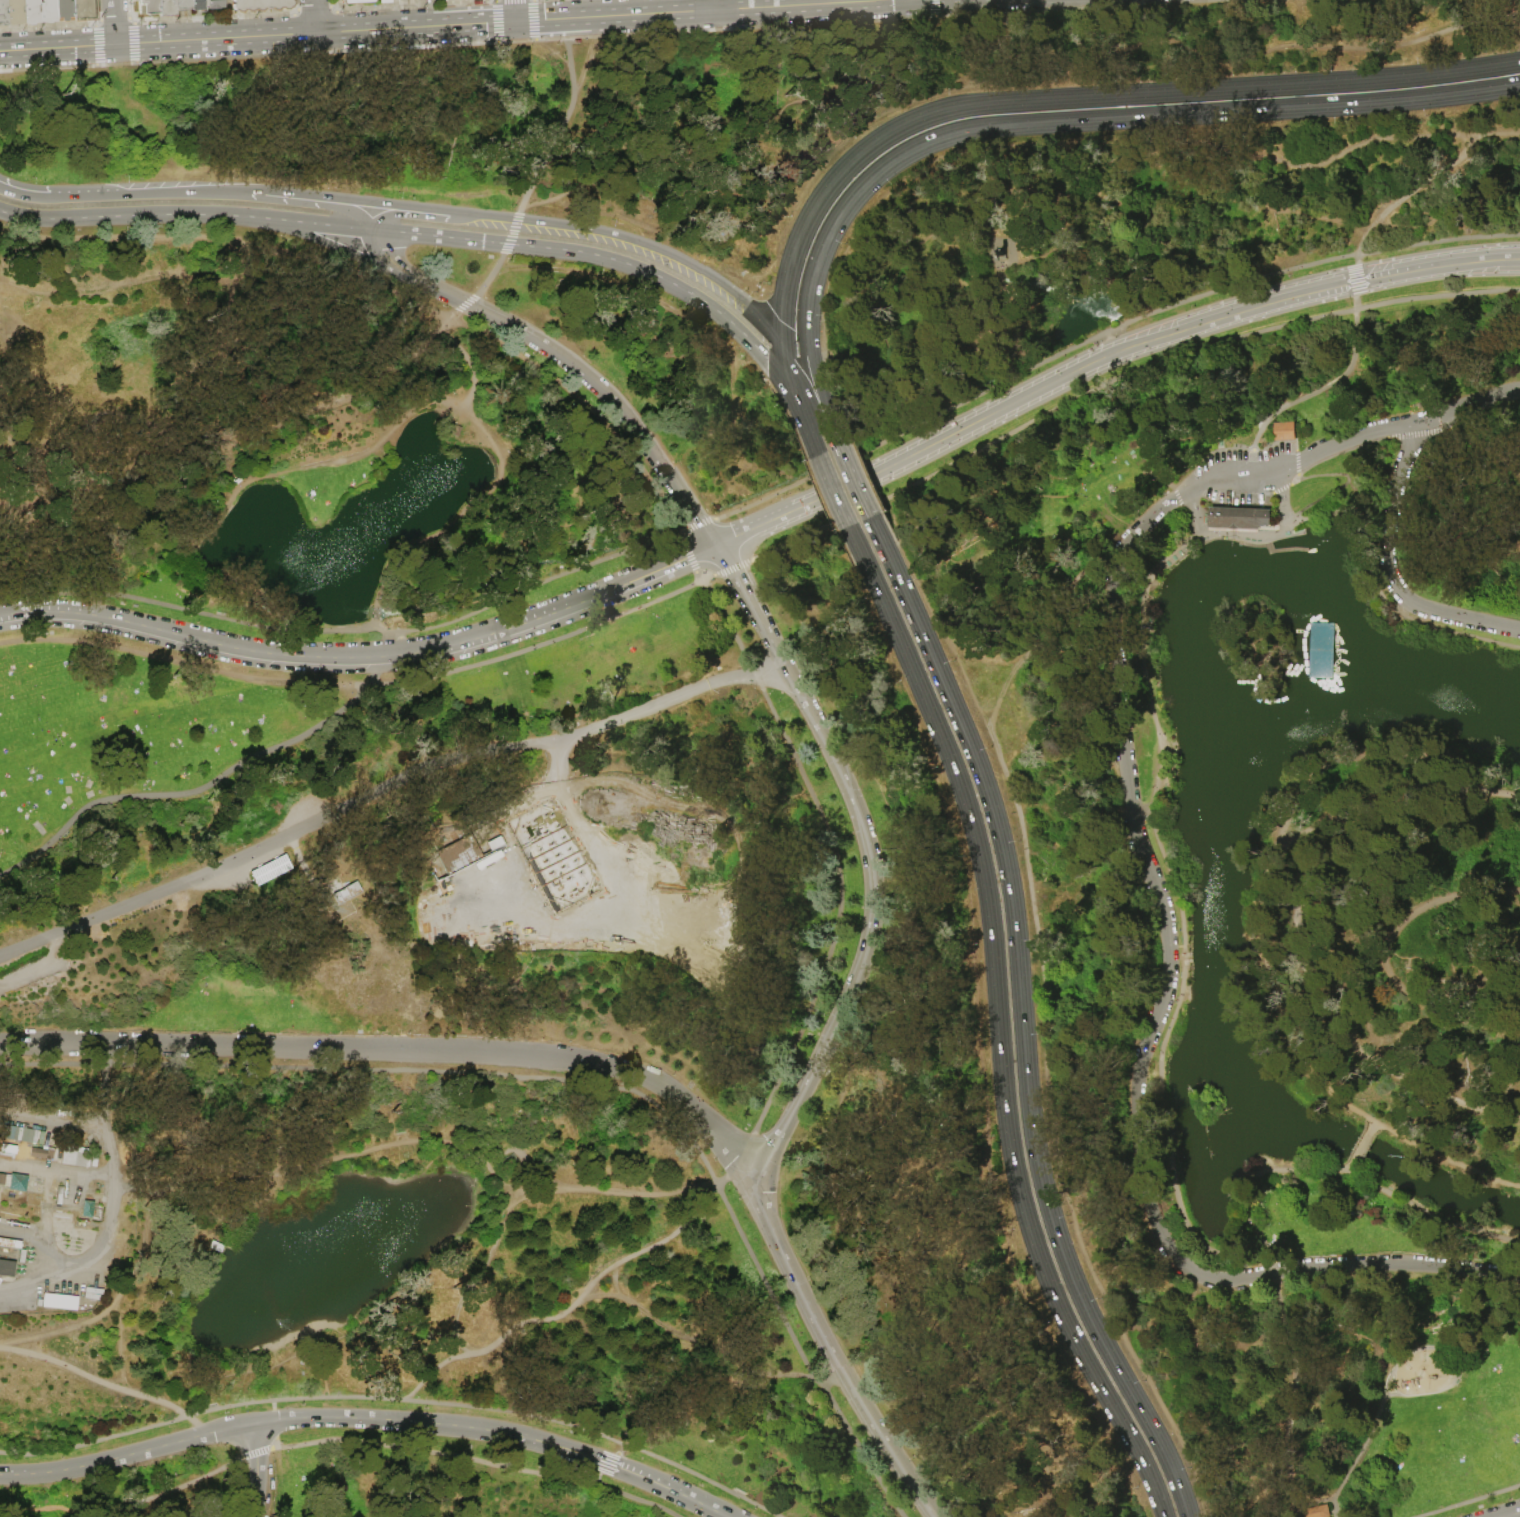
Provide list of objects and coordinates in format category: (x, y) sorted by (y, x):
building: (356, 1)
building: (384, 1)
building: (198, 4)
building: (215, 4)
building: (182, 5)
building: (261, 5)
road: (714, 5)
building: (148, 7)
building: (166, 8)
road: (1517, 8)
road: (723, 9)
building: (63, 10)
building: (82, 10)
road: (514, 10)
building: (30, 11)
building: (47, 11)
building: (14, 12)
building: (3, 13)
road: (314, 16)
traffic signals: (515, 21)
road: (114, 22)
road: (440, 25)
road: (158, 42)
road: (542, 45)
road: (1011, 60)
road: (1130, 95)
road: (870, 117)
road: (564, 119)
road: (1110, 119)
road: (1360, 146)
road: (1086, 163)
road: (906, 180)
road: (1055, 181)
road: (1414, 188)
road: (160, 191)
road: (27, 193)
road: (316, 201)
road: (410, 211)
road: (130, 213)
road: (371, 218)
road: (317, 222)
road: (589, 231)
road: (512, 233)
road: (1102, 237)
road: (233, 240)
road: (1055, 258)
road: (904, 259)
road: (614, 260)
road: (492, 274)
road: (411, 276)
road: (1355, 280)
road: (783, 292)
road: (473, 298)
road: (461, 308)
road: (1151, 311)
road: (752, 314)
traffic signals: (782, 323)
road: (946, 324)
road: (1192, 351)
road: (1112, 353)
road: (471, 356)
road: (810, 361)
traffic signals: (765, 362)
road: (802, 372)
road: (789, 378)
road: (830, 383)
road: (926, 389)
road: (1311, 394)
road: (579, 395)
road: (613, 400)
road: (417, 406)
road: (1464, 406)
road: (826, 413)
traffic signals: (832, 427)
building: (1285, 430)
road: (1488, 431)
road: (229, 432)
road: (809, 432)
road: (1420, 433)
road: (836, 436)
road: (853, 443)
street lamp: (1261, 446)
road: (1296, 446)
road: (1228, 447)
road: (1257, 452)
road: (1317, 452)
road: (1339, 452)
road: (858, 454)
parking lot: (1243, 457)
road: (862, 463)
road: (1296, 463)
road: (868, 477)
road: (1293, 479)
road: (856, 481)
road: (1200, 483)
road: (1339, 485)
road: (1280, 489)
road: (834, 490)
road: (874, 491)
road: (1177, 494)
road: (1352, 494)
road: (1046, 496)
road: (763, 498)
road: (1270, 500)
road: (878, 501)
road: (857, 509)
building: (1237, 518)
road: (674, 522)
road: (696, 524)
road: (1261, 532)
road: (725, 540)
road: (786, 543)
pier: (1249, 545)
building: (1179, 553)
road: (688, 556)
building: (1173, 557)
building: (1167, 562)
road: (725, 571)
road: (1388, 573)
road: (1375, 588)
road: (903, 591)
road: (1397, 603)
road: (752, 609)
road: (552, 613)
road: (724, 618)
road: (1049, 623)
road: (345, 629)
road: (189, 638)
road: (540, 646)
pier: (1320, 651)
road: (184, 663)
road: (376, 670)
road: (754, 675)
park: (766, 773)
road: (187, 785)
road: (385, 785)
road: (1492, 791)
road: (884, 816)
road: (1144, 822)
road: (1304, 830)
building: (462, 853)
building: (268, 868)
road: (611, 888)
building: (346, 890)
road: (842, 912)
road: (1385, 953)
road: (1308, 960)
road: (1256, 962)
road: (995, 975)
road: (1490, 977)
road: (1440, 987)
road: (1050, 1013)
road: (985, 1023)
road: (1148, 1040)
road: (404, 1048)
road: (1160, 1075)
road: (571, 1081)
road: (1028, 1101)
road: (794, 1103)
road: (116, 1106)
road: (1372, 1125)
building: (21, 1134)
road: (437, 1143)
road: (1359, 1147)
building: (43, 1153)
road: (736, 1158)
road: (108, 1169)
road: (1346, 1170)
building: (15, 1182)
building: (4, 1190)
road: (607, 1191)
building: (89, 1209)
road: (39, 1232)
road: (1260, 1240)
building: (11, 1244)
building: (214, 1245)
road: (649, 1245)
building: (23, 1257)
building: (6, 1267)
road: (75, 1268)
road: (1271, 1271)
road: (31, 1283)
building: (91, 1289)
building: (87, 1294)
road: (605, 1294)
building: (57, 1300)
road: (837, 1308)
road: (921, 1315)
road: (1431, 1349)
road: (1205, 1363)
road: (70, 1366)
road: (1295, 1390)
road: (705, 1397)
road: (395, 1399)
road: (164, 1400)
road: (369, 1418)
road: (423, 1452)
road: (606, 1462)
road: (257, 1469)
road: (1351, 1469)
road: (1146, 1471)
road: (235, 1478)
road: (173, 1492)
road: (634, 1497)
road: (1, 1498)
road: (1467, 1500)
road: (33, 1503)
road: (1309, 1503)
road: (1333, 1508)
building: (1316, 1511)
road: (1512, 1514)

